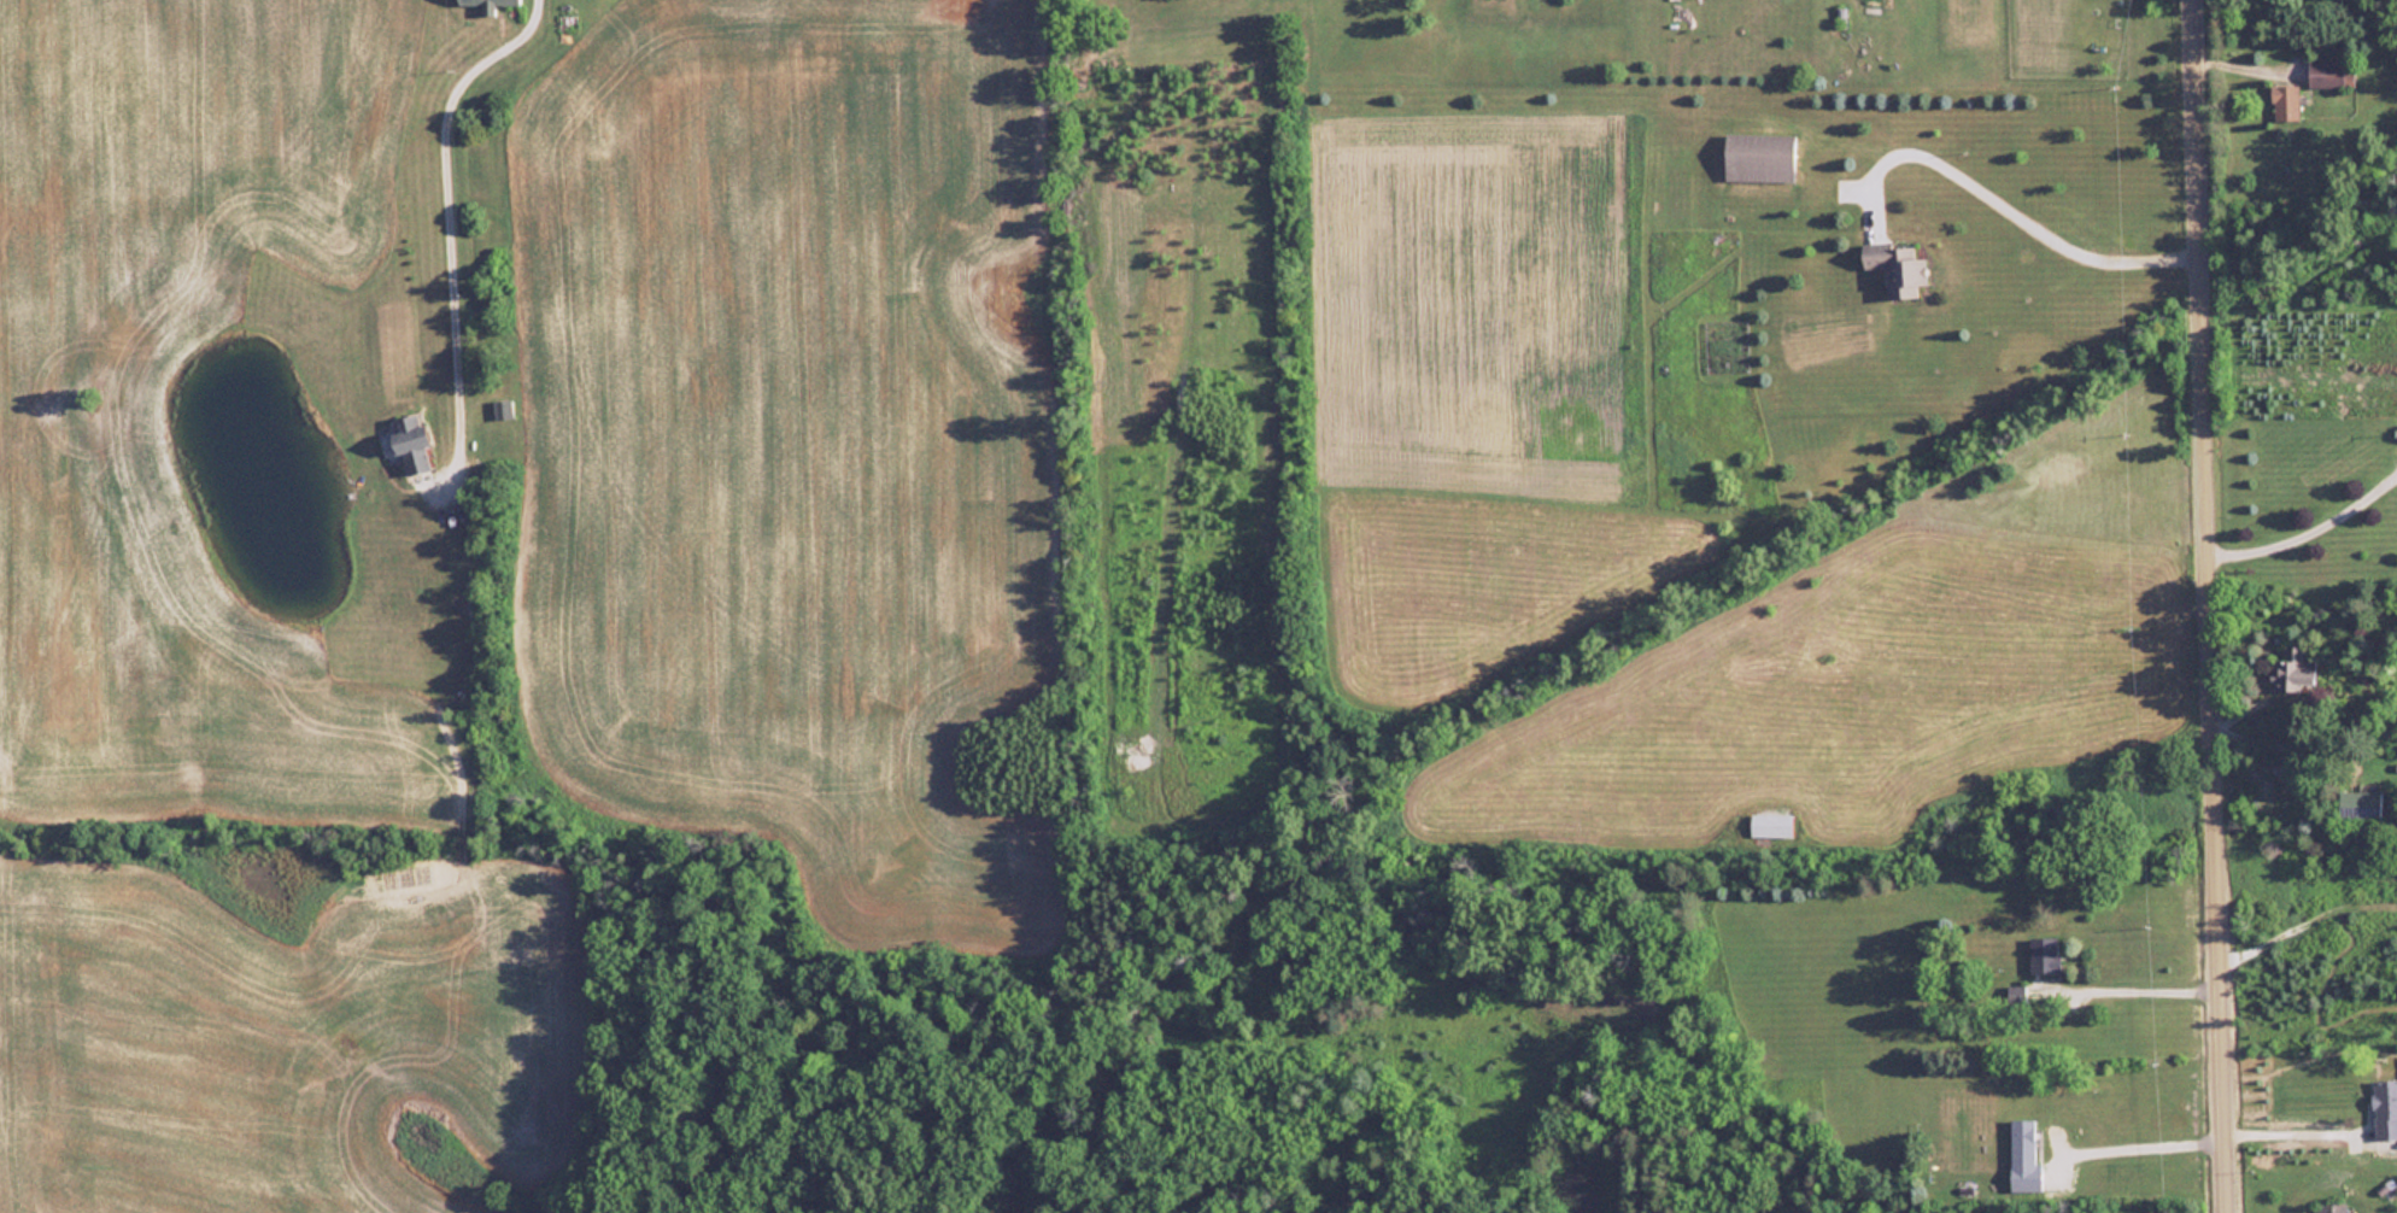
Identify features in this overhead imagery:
building: (487, 4)
building: (565, 22)
building: (2326, 72)
building: (2285, 101)
building: (1758, 158)
road: (2014, 199)
building: (1898, 270)
building: (503, 408)
building: (411, 443)
road: (2213, 605)
building: (2290, 674)
building: (2358, 803)
building: (1771, 824)
building: (2044, 954)
building: (2384, 1108)
building: (2022, 1141)
building: (2332, 1207)

